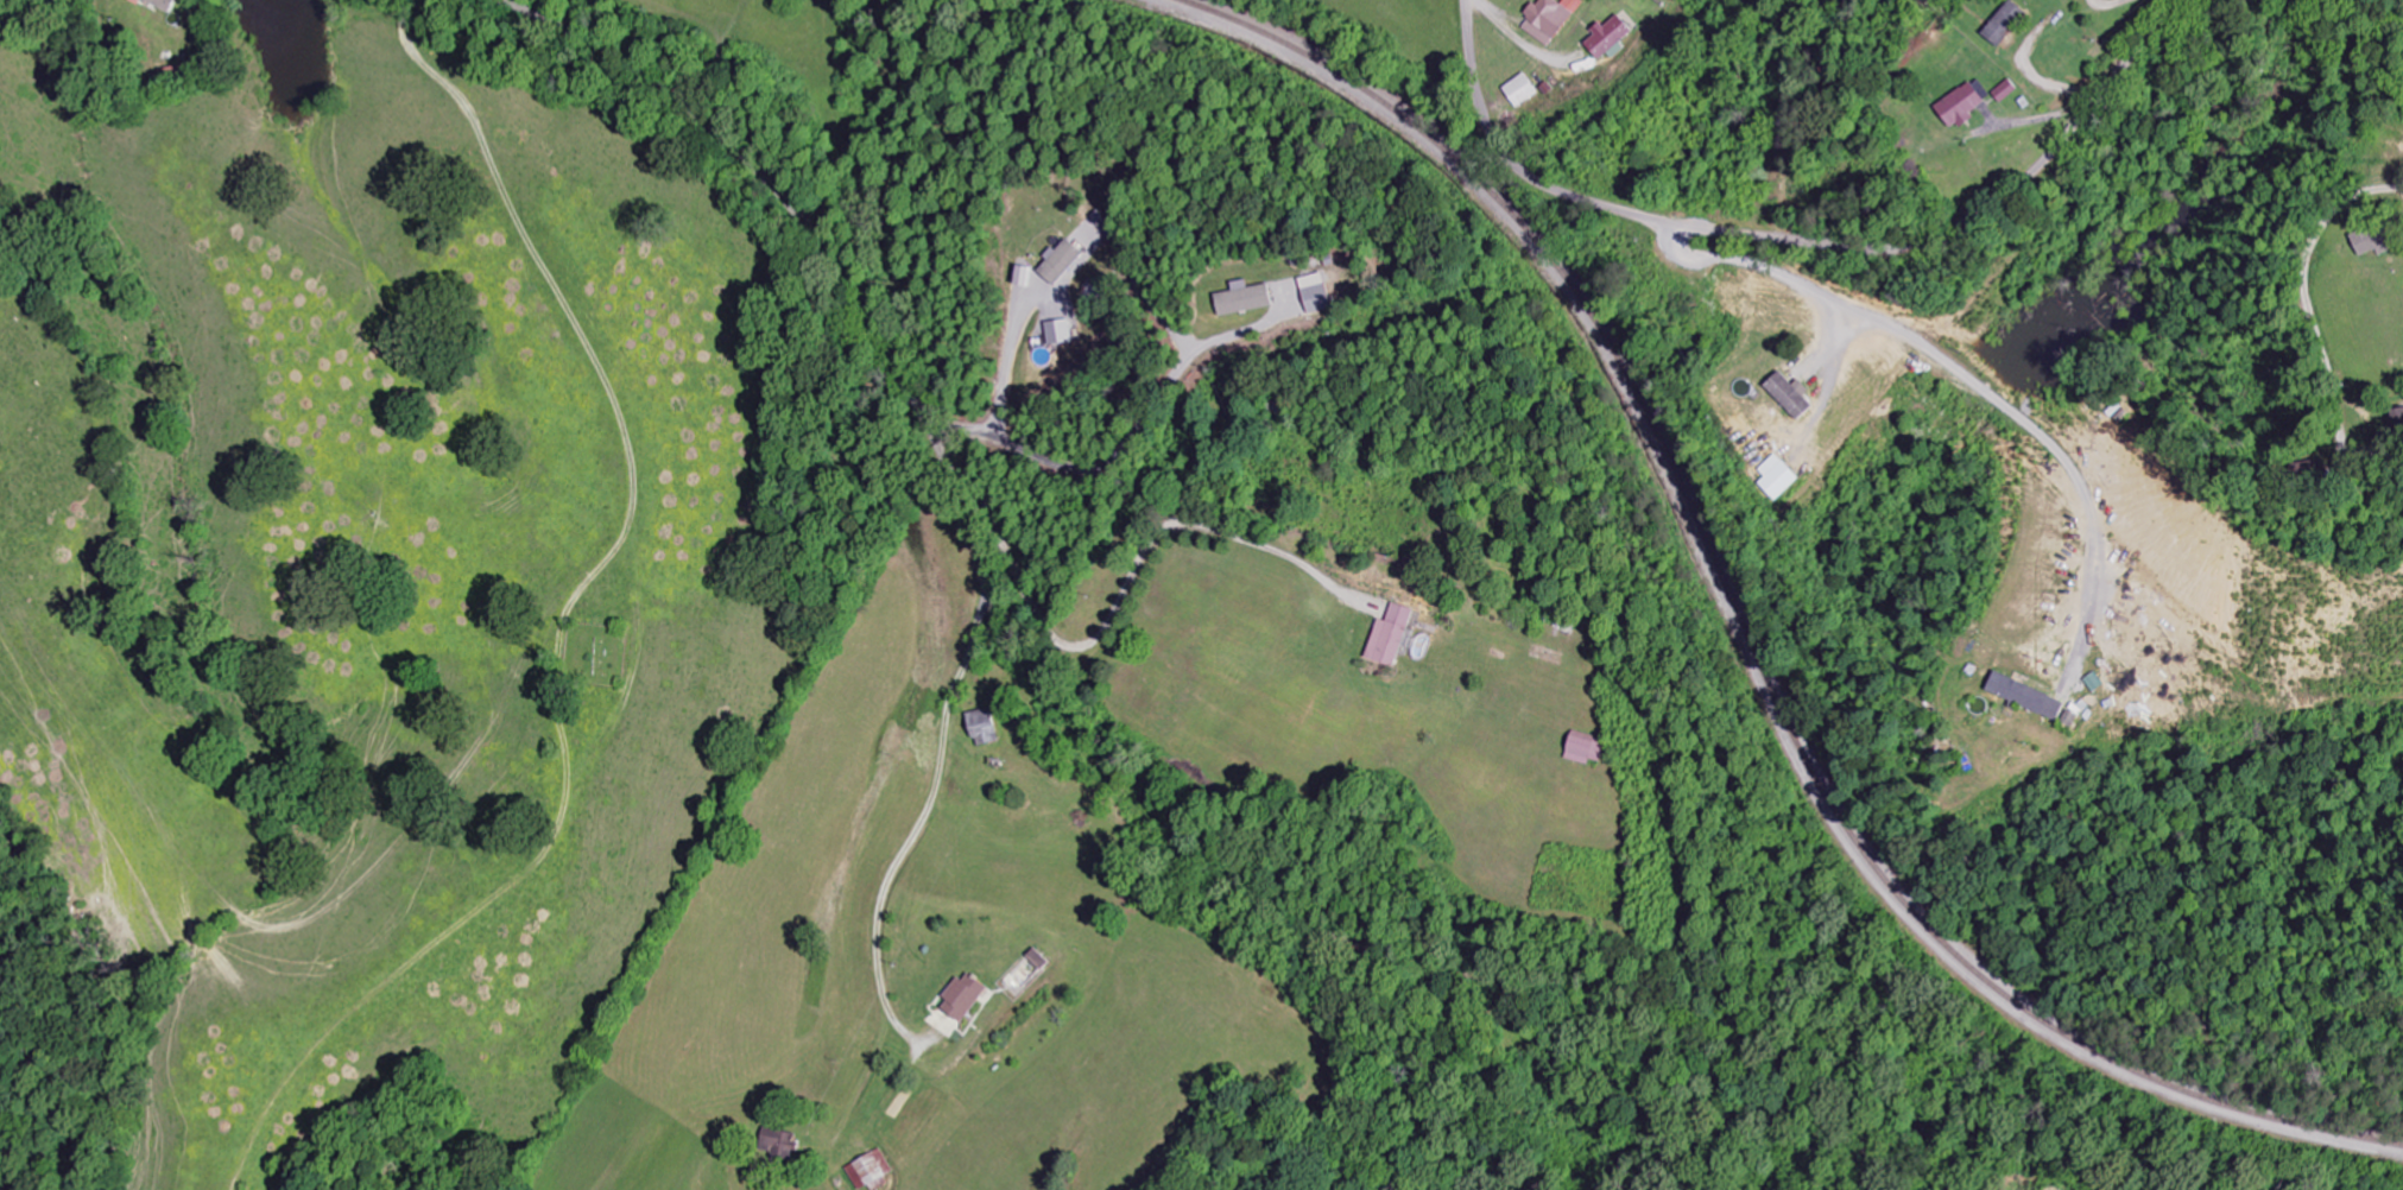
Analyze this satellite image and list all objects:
building: (171, 5)
building: (1549, 19)
building: (2003, 24)
building: (1606, 39)
building: (1520, 90)
building: (2003, 91)
building: (1958, 107)
building: (2372, 240)
road: (1804, 241)
road: (822, 246)
building: (1058, 262)
building: (1020, 277)
building: (1314, 293)
building: (1241, 299)
building: (1057, 333)
building: (1787, 395)
building: (1778, 479)
railway: (1746, 620)
building: (1385, 637)
building: (2023, 697)
building: (979, 728)
building: (1582, 749)
building: (1038, 960)
building: (960, 999)
building: (872, 1171)

